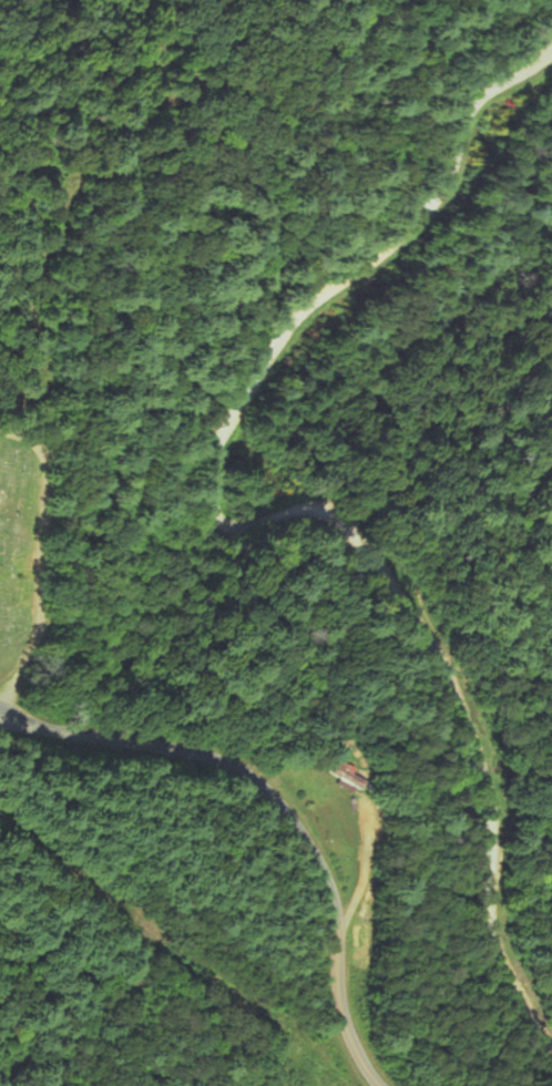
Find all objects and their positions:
road: (266, 500)
park: (22, 559)
road: (279, 803)

